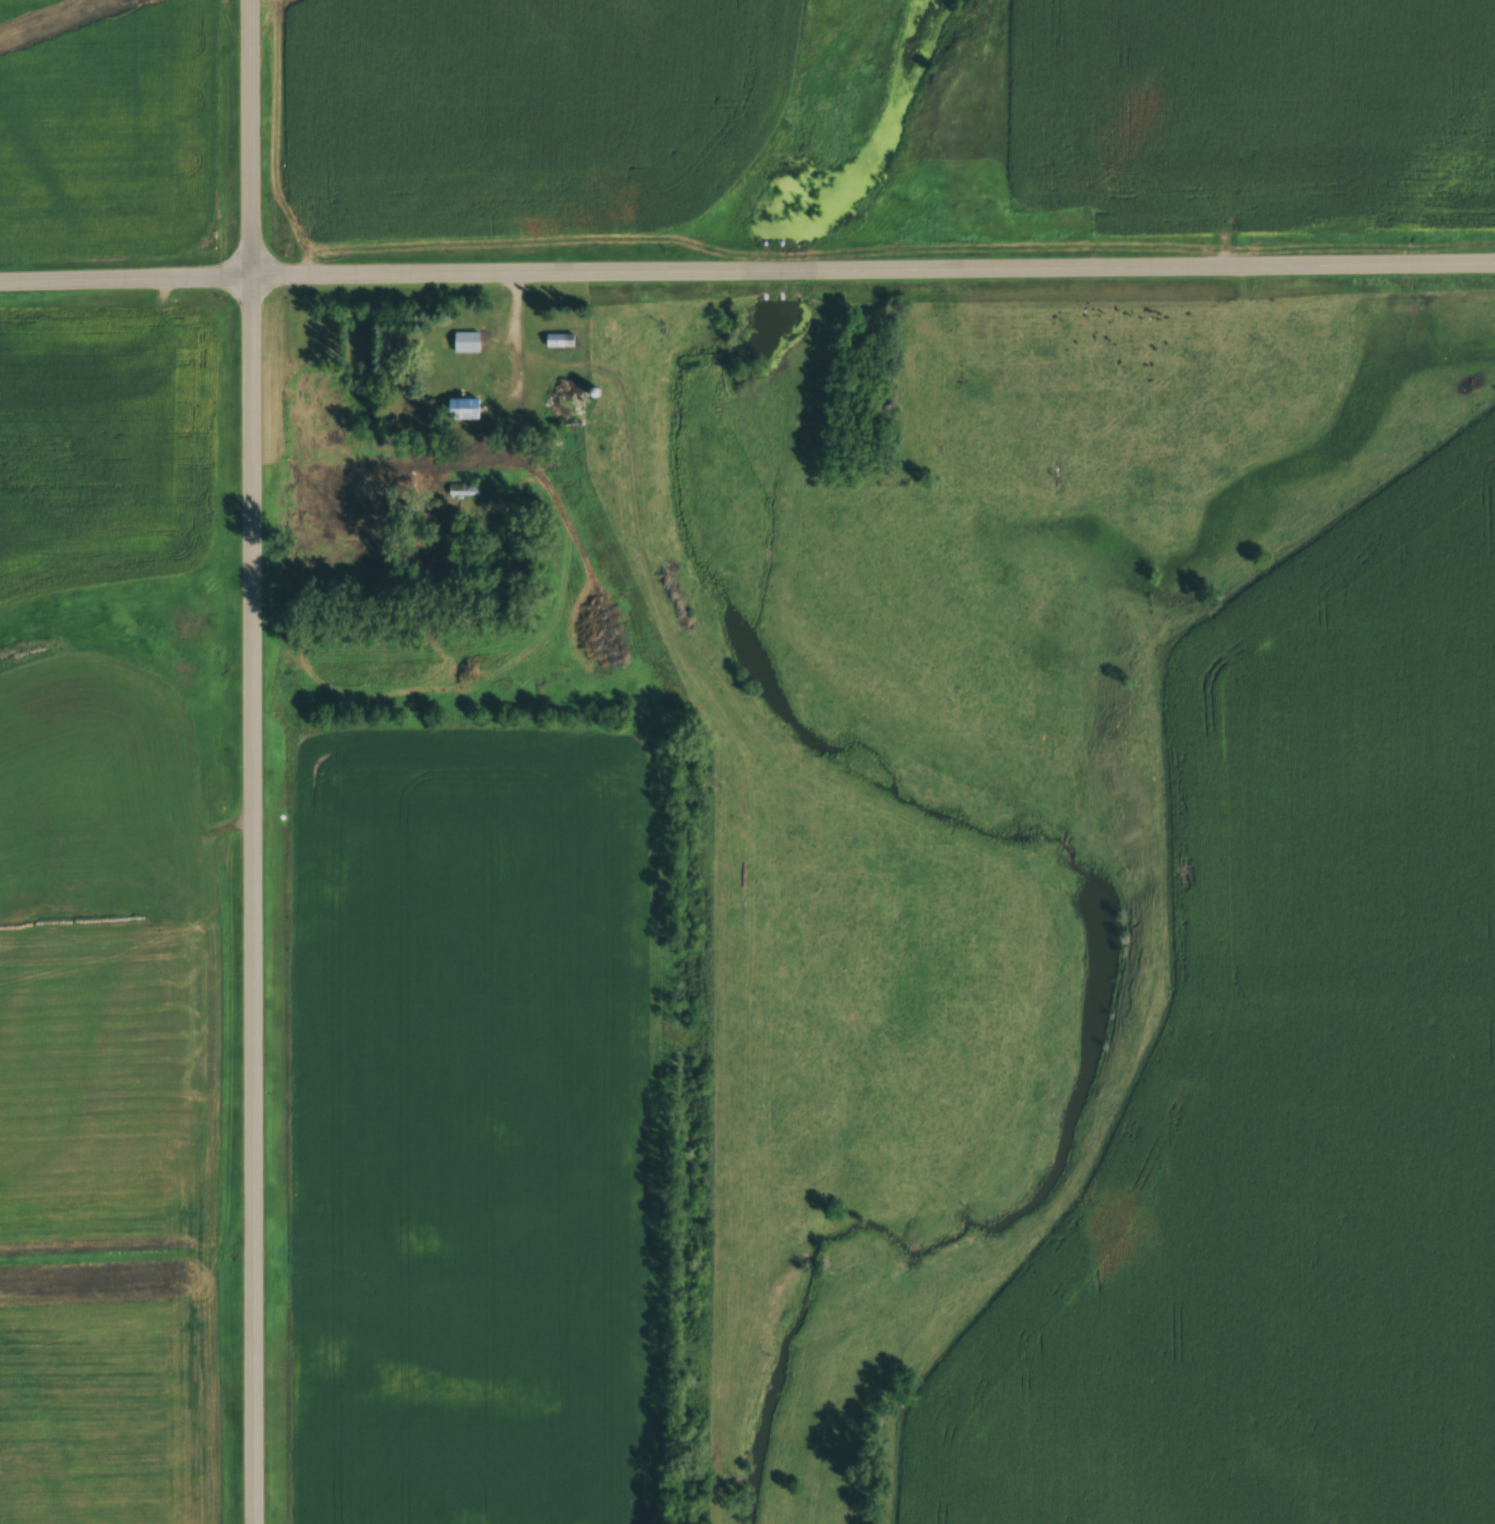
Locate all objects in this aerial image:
road: (872, 261)
road: (125, 270)
building: (558, 343)
building: (465, 345)
building: (570, 404)
building: (462, 413)
building: (462, 492)
road: (252, 762)

